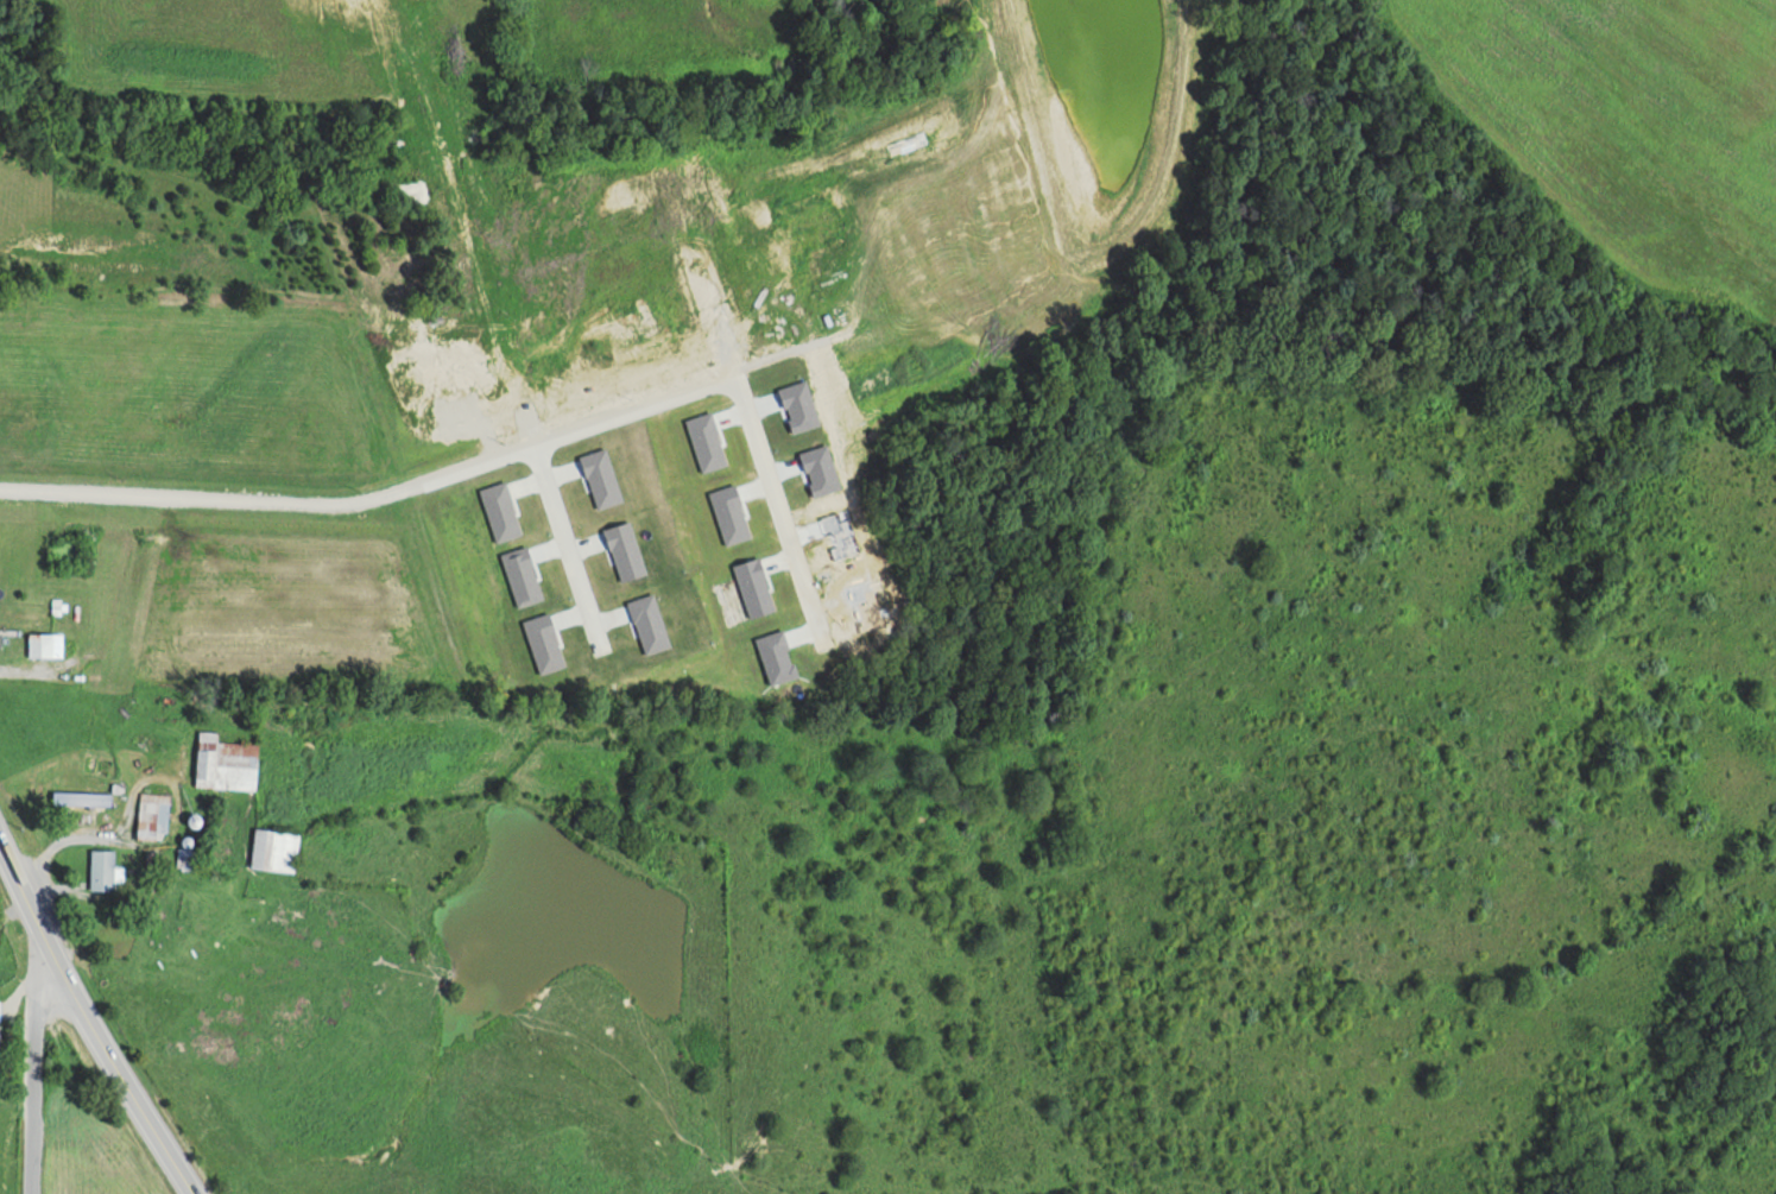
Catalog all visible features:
building: (45, 644)
building: (225, 763)
building: (78, 798)
building: (153, 815)
building: (274, 851)
building: (103, 871)
road: (89, 1022)
road: (37, 1065)

